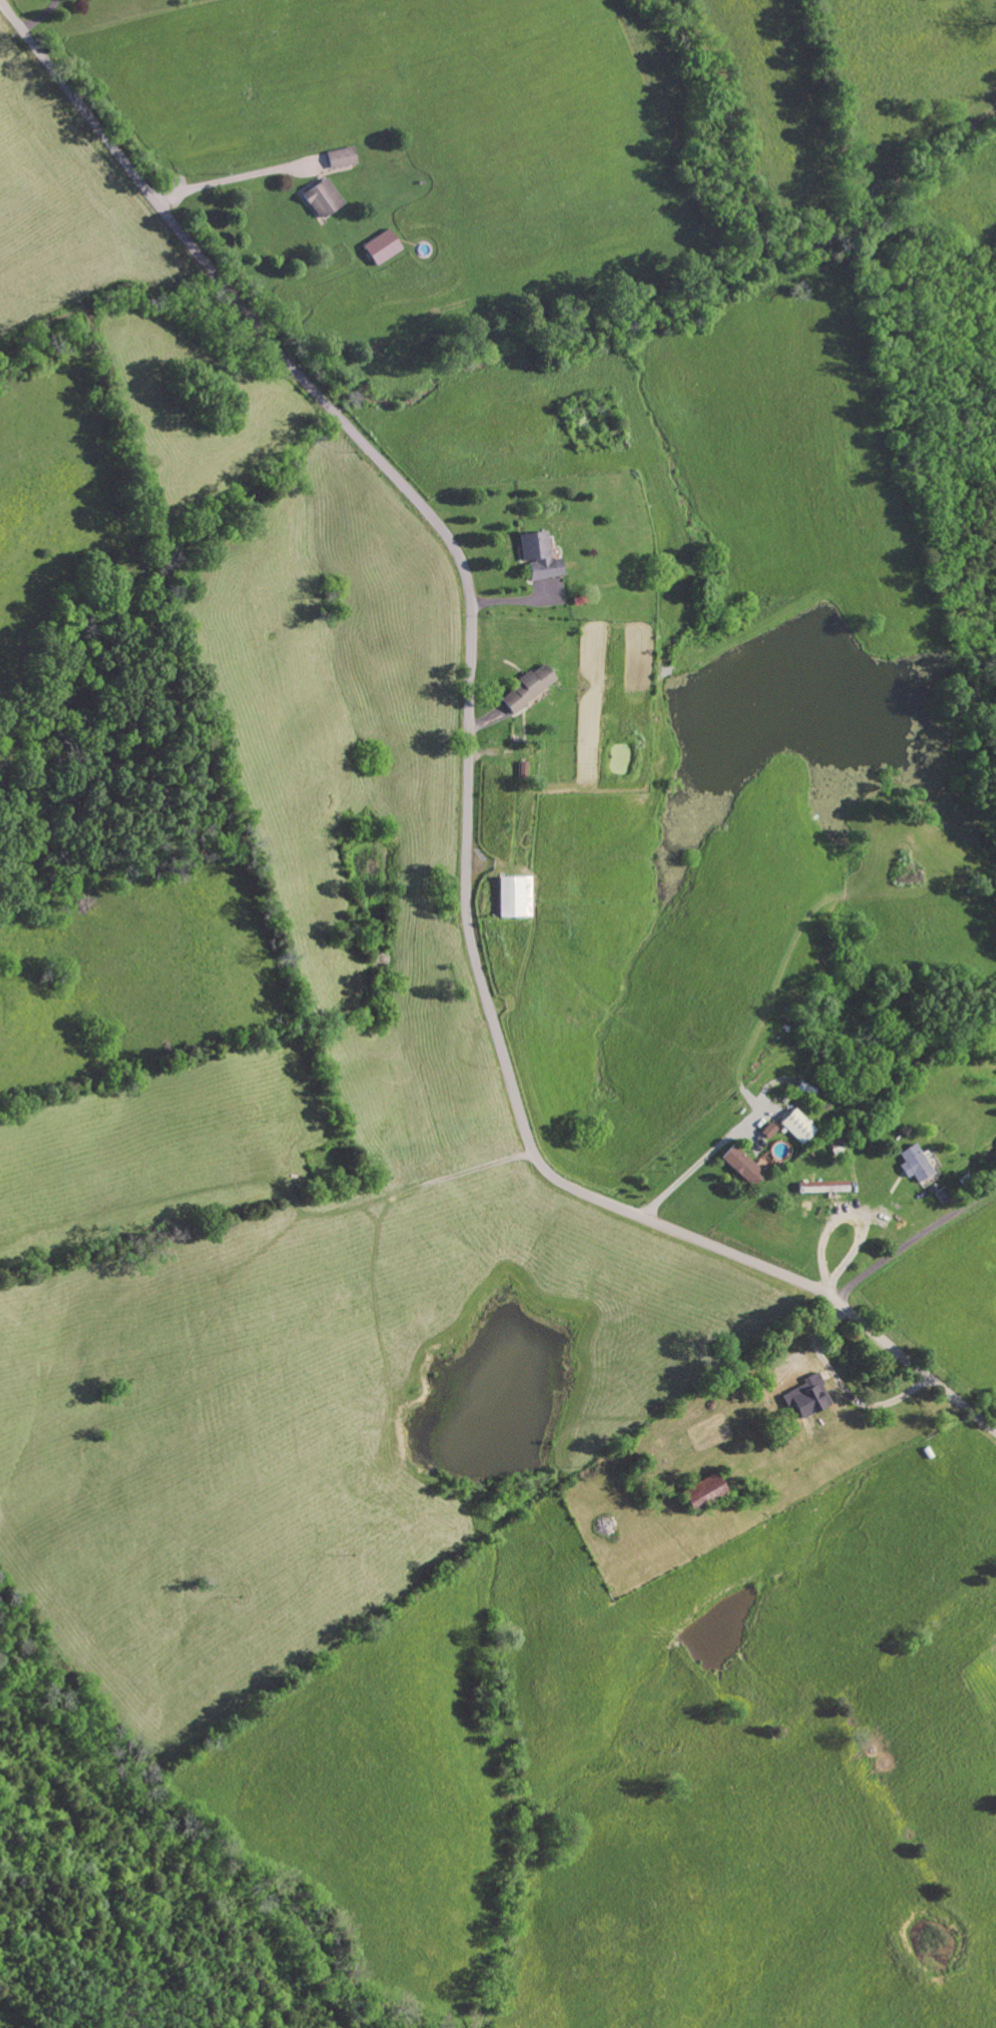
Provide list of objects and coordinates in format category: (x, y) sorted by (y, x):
road: (43, 17)
building: (340, 158)
road: (233, 181)
building: (321, 198)
building: (381, 248)
building: (537, 557)
building: (525, 689)
road: (471, 767)
building: (513, 898)
building: (795, 1127)
building: (767, 1131)
road: (701, 1161)
building: (912, 1164)
building: (741, 1166)
building: (821, 1188)
road: (846, 1217)
road: (913, 1239)
building: (807, 1398)
building: (702, 1494)

